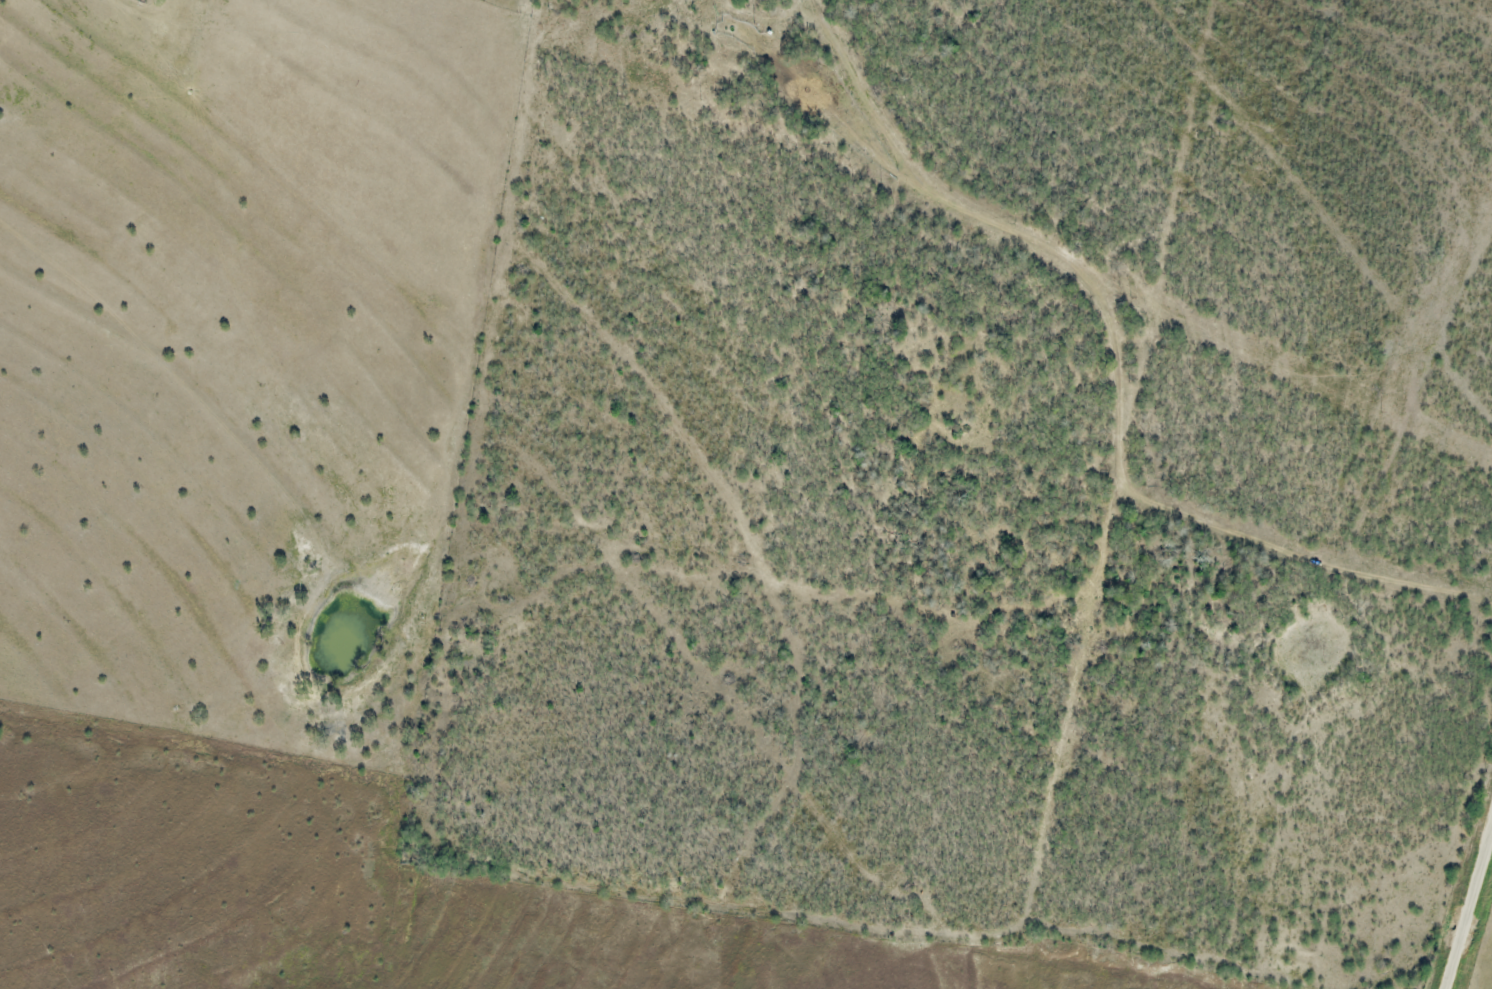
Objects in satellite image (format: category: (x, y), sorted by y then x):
road: (1470, 914)

